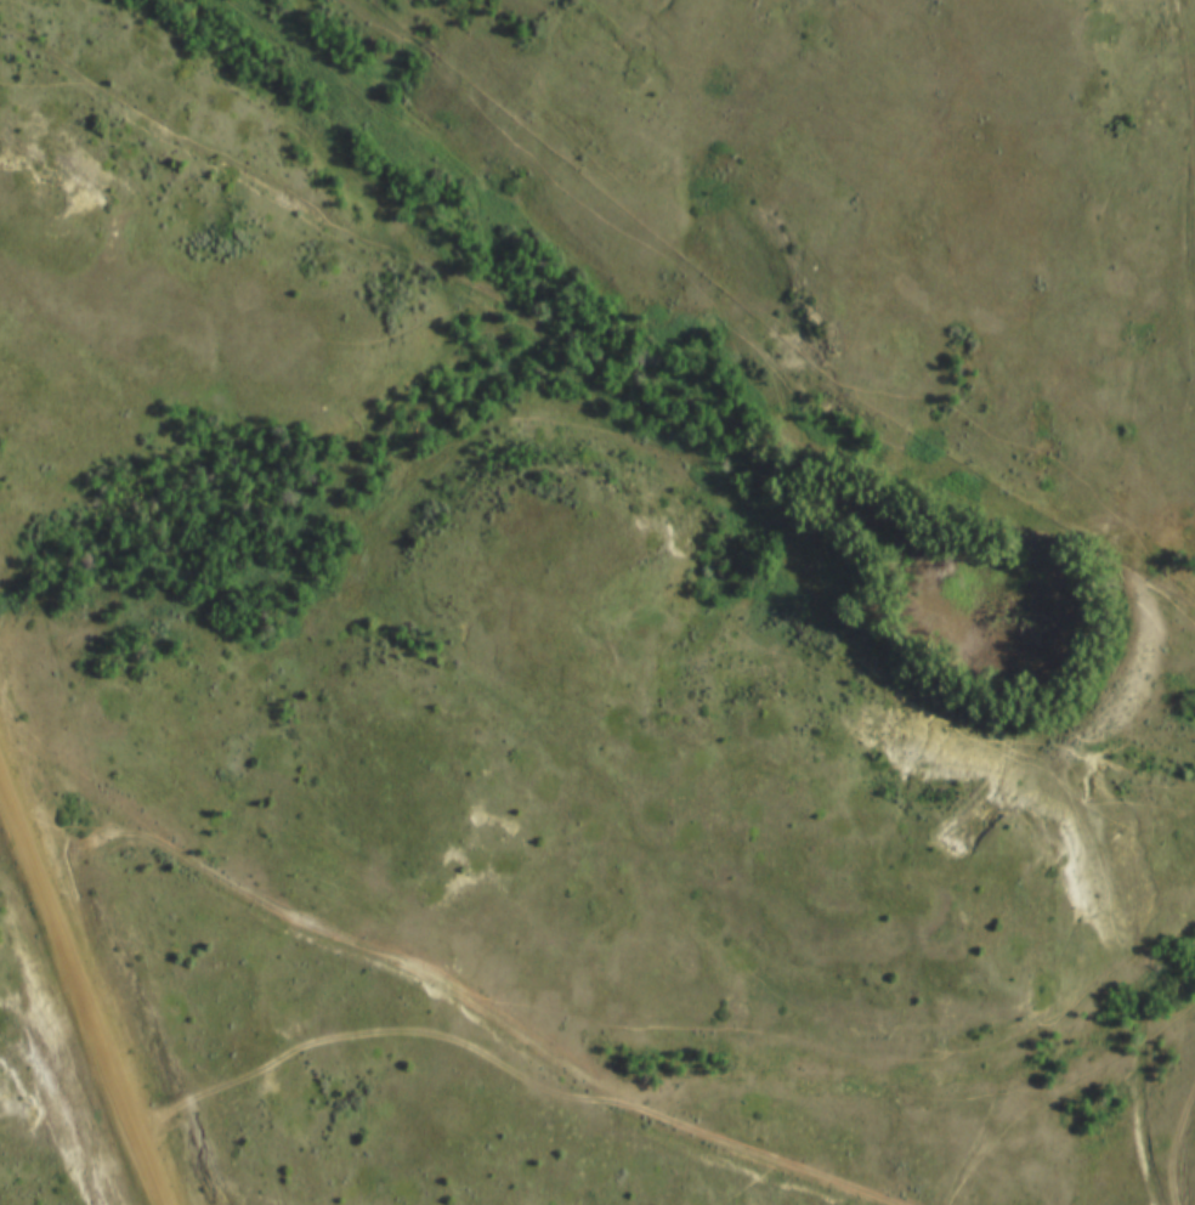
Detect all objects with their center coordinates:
road: (80, 990)
road: (466, 995)
road: (1183, 1155)

